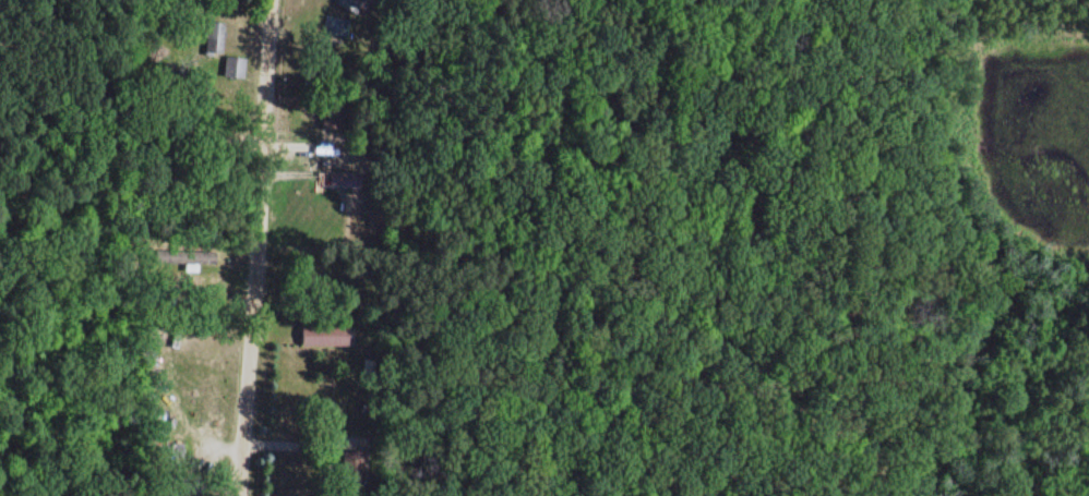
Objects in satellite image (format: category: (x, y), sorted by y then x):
building: (352, 5)
building: (213, 37)
building: (234, 66)
road: (260, 169)
building: (195, 256)
road: (128, 261)
building: (323, 335)
road: (244, 416)
building: (354, 464)

